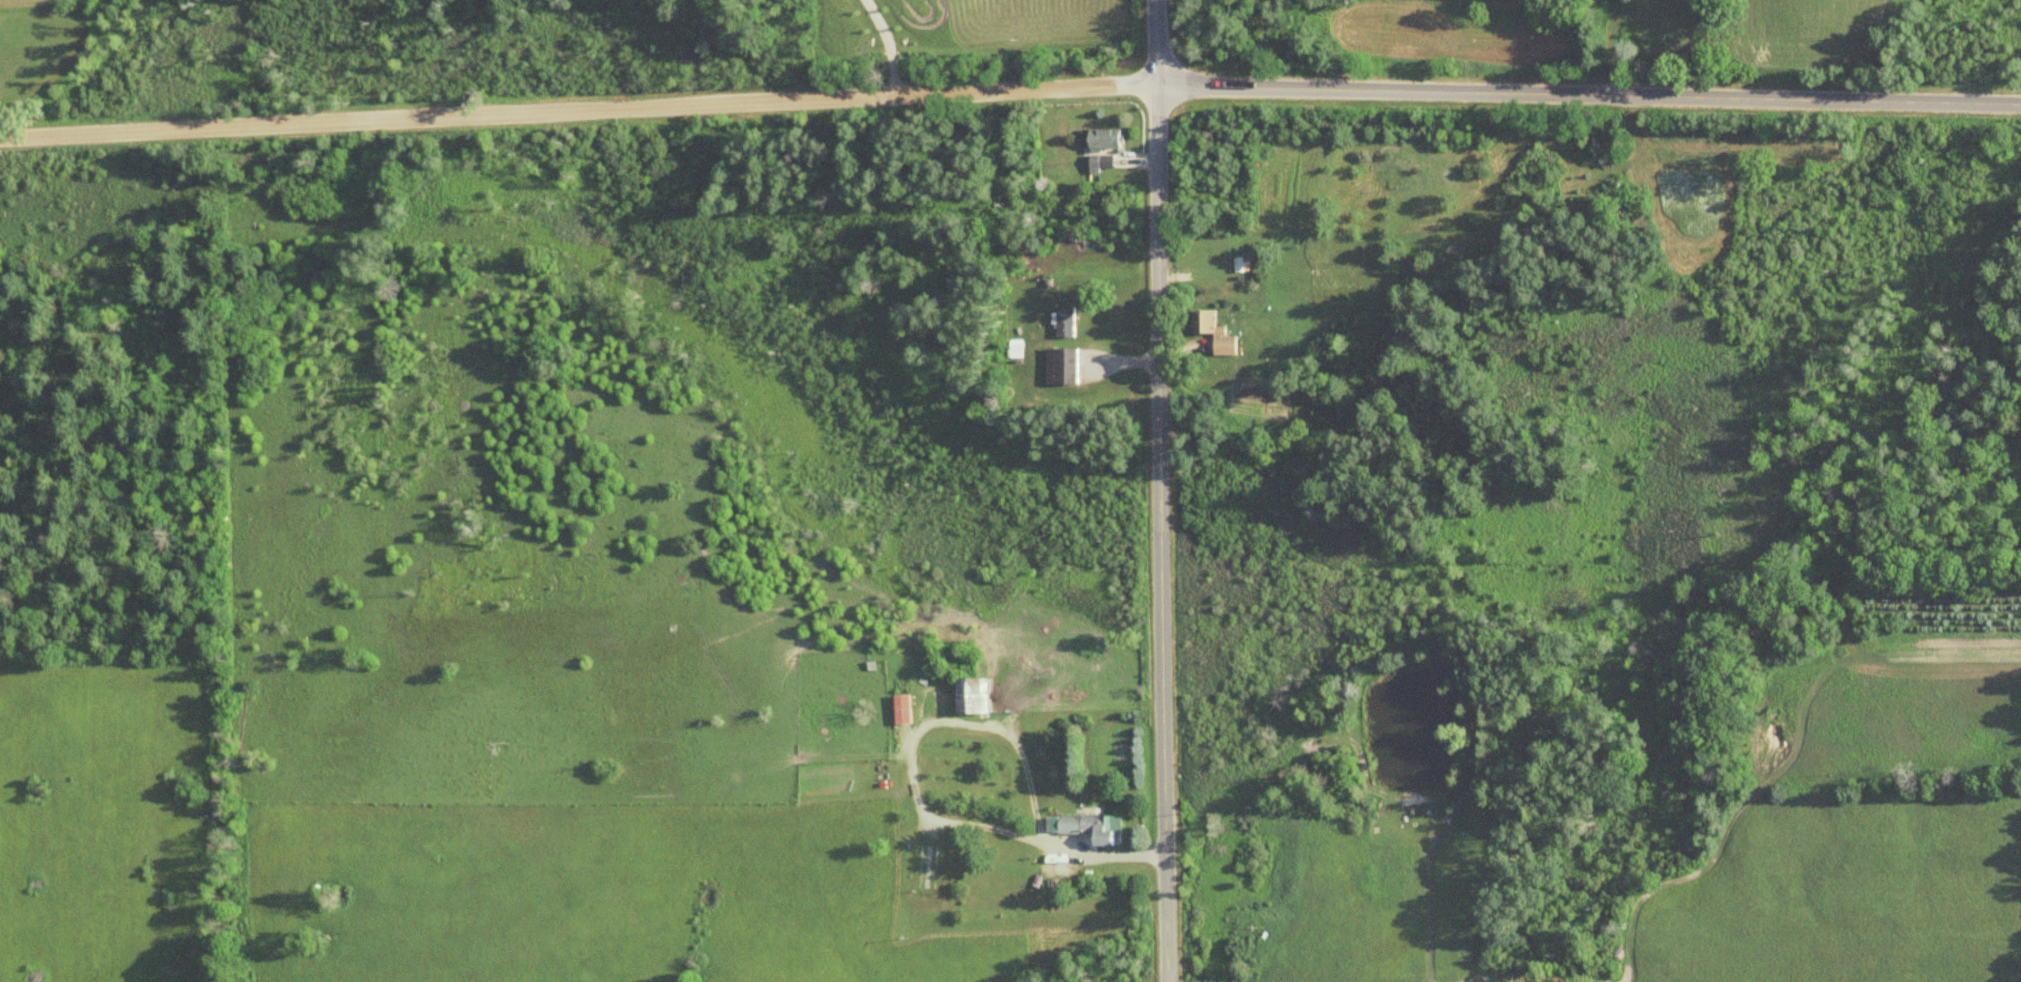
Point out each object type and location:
crop: (34, 2)
road: (1153, 41)
road: (1587, 95)
road: (576, 110)
building: (1105, 138)
building: (1100, 163)
building: (1241, 264)
building: (1066, 323)
building: (1221, 335)
road: (1158, 532)
building: (980, 694)
building: (906, 708)
crop: (102, 823)
building: (1089, 826)

